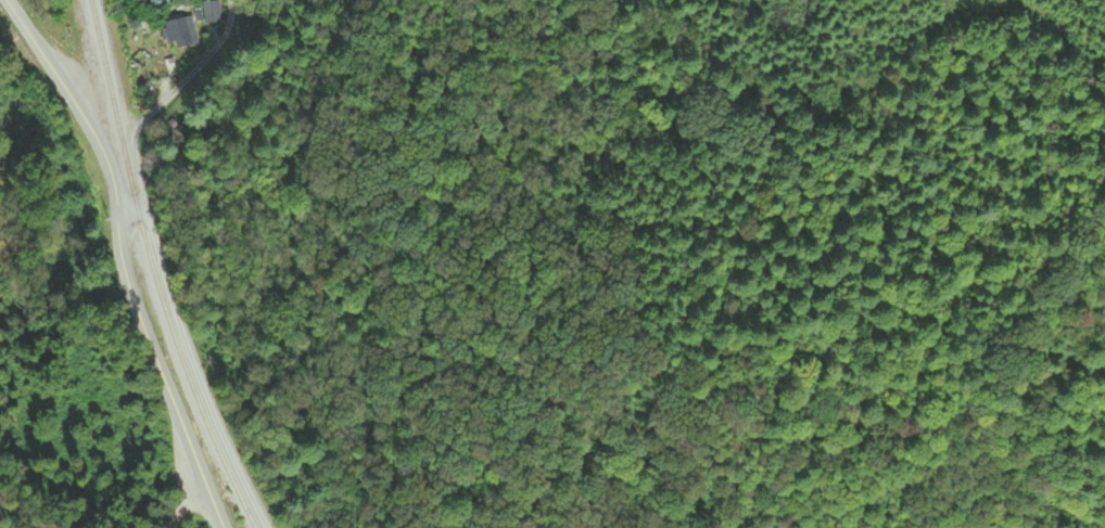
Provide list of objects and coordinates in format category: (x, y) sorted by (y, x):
building: (212, 12)
building: (180, 31)
road: (141, 207)
road: (125, 208)
road: (160, 253)
road: (120, 257)
railway: (153, 271)
road: (164, 464)
road: (224, 527)

